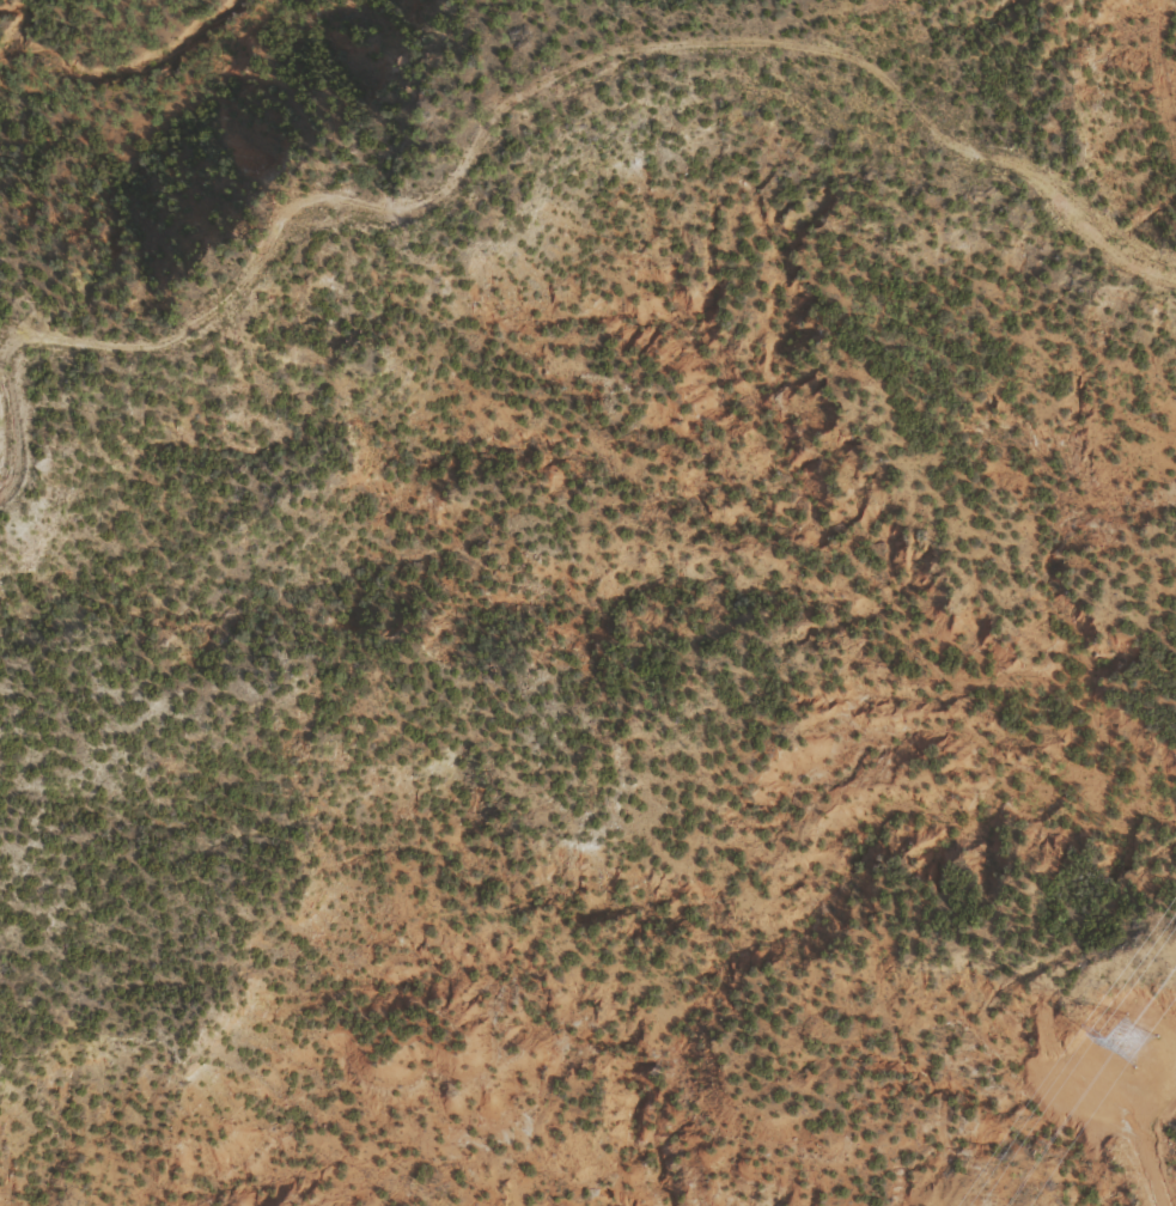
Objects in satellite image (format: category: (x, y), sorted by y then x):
road: (566, 242)
power tower: (1126, 1040)

